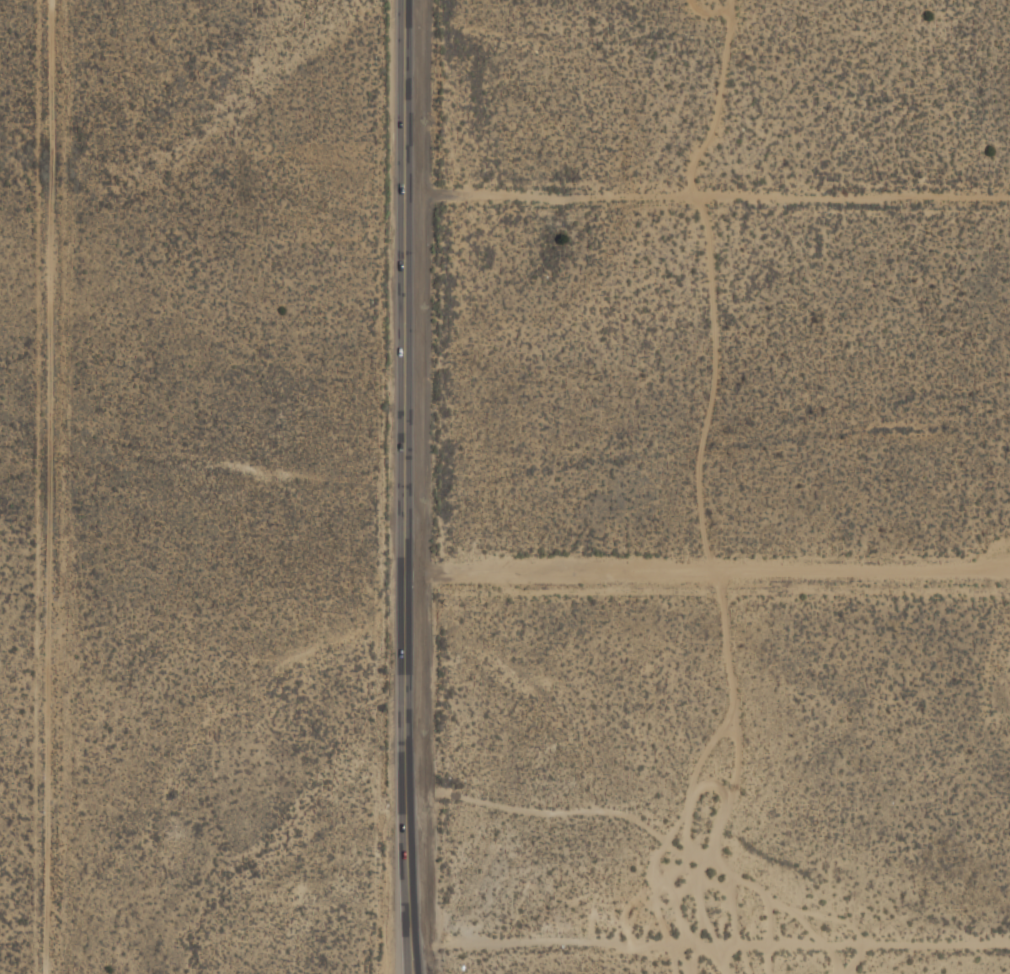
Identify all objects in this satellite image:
road: (709, 197)
road: (409, 473)
road: (709, 572)
road: (709, 947)
road: (408, 960)
road: (410, 960)

